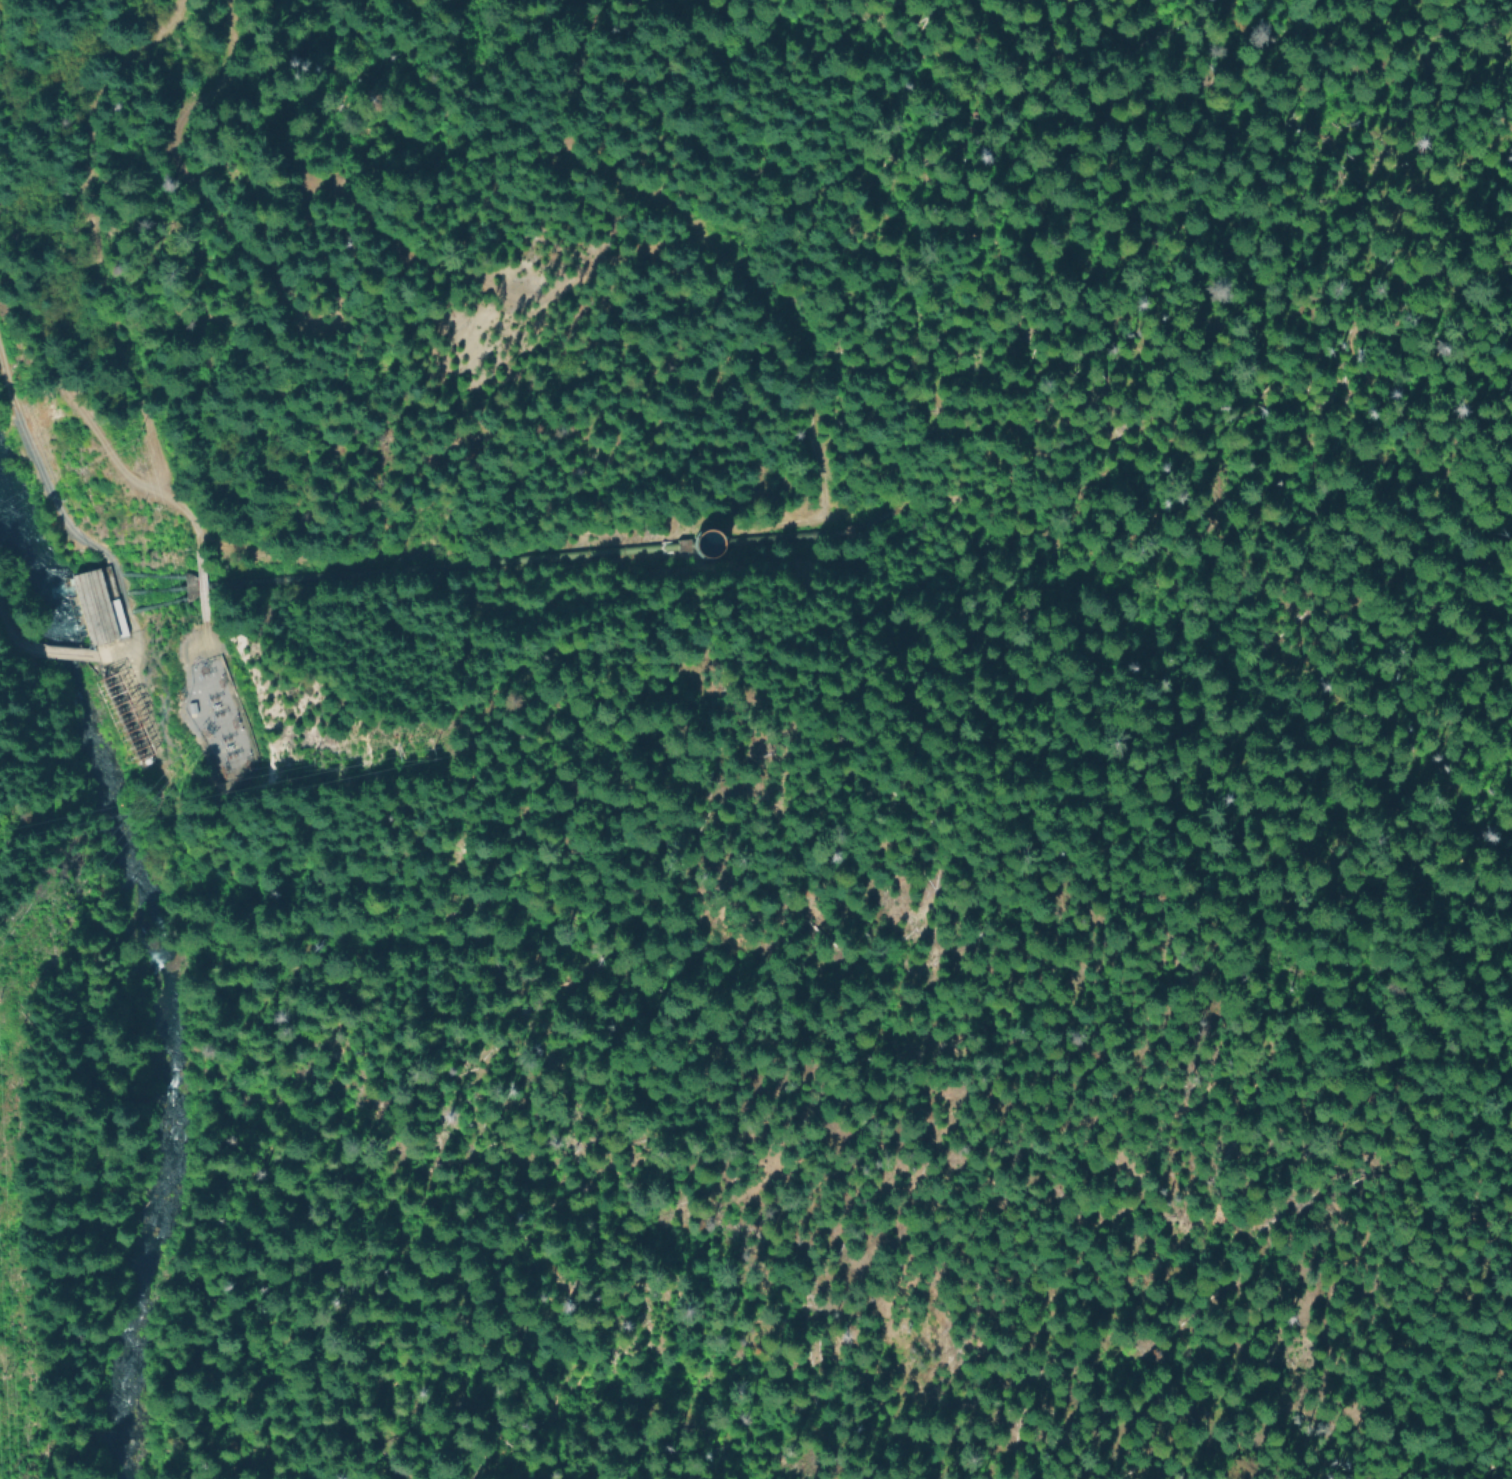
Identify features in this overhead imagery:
road: (398, 245)
road: (746, 294)
road: (111, 458)
road: (57, 511)
building: (99, 606)
road: (12, 638)
road: (60, 653)
building: (208, 702)
road: (1230, 786)
river: (143, 981)

